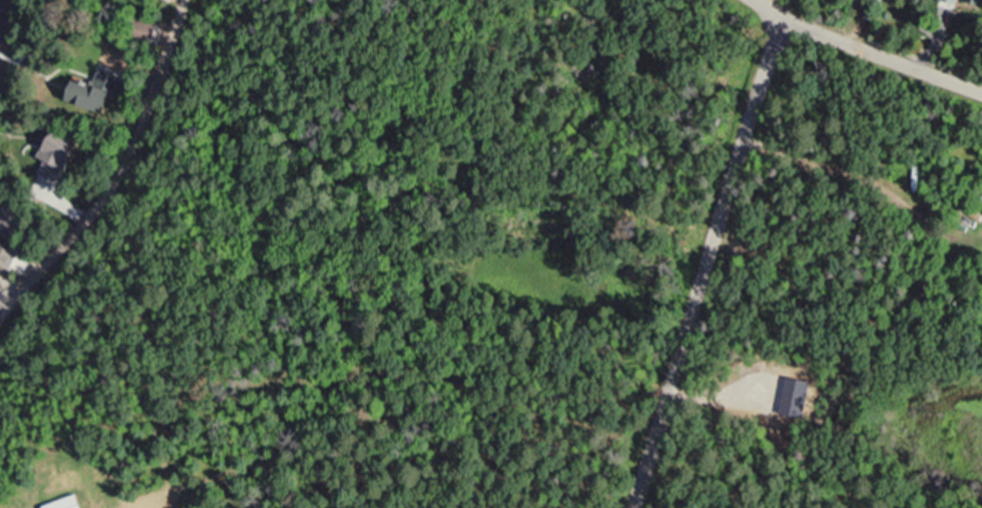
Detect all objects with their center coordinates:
building: (955, 1)
building: (975, 1)
road: (864, 53)
building: (96, 92)
building: (47, 162)
road: (118, 175)
building: (12, 221)
road: (706, 263)
building: (67, 503)

